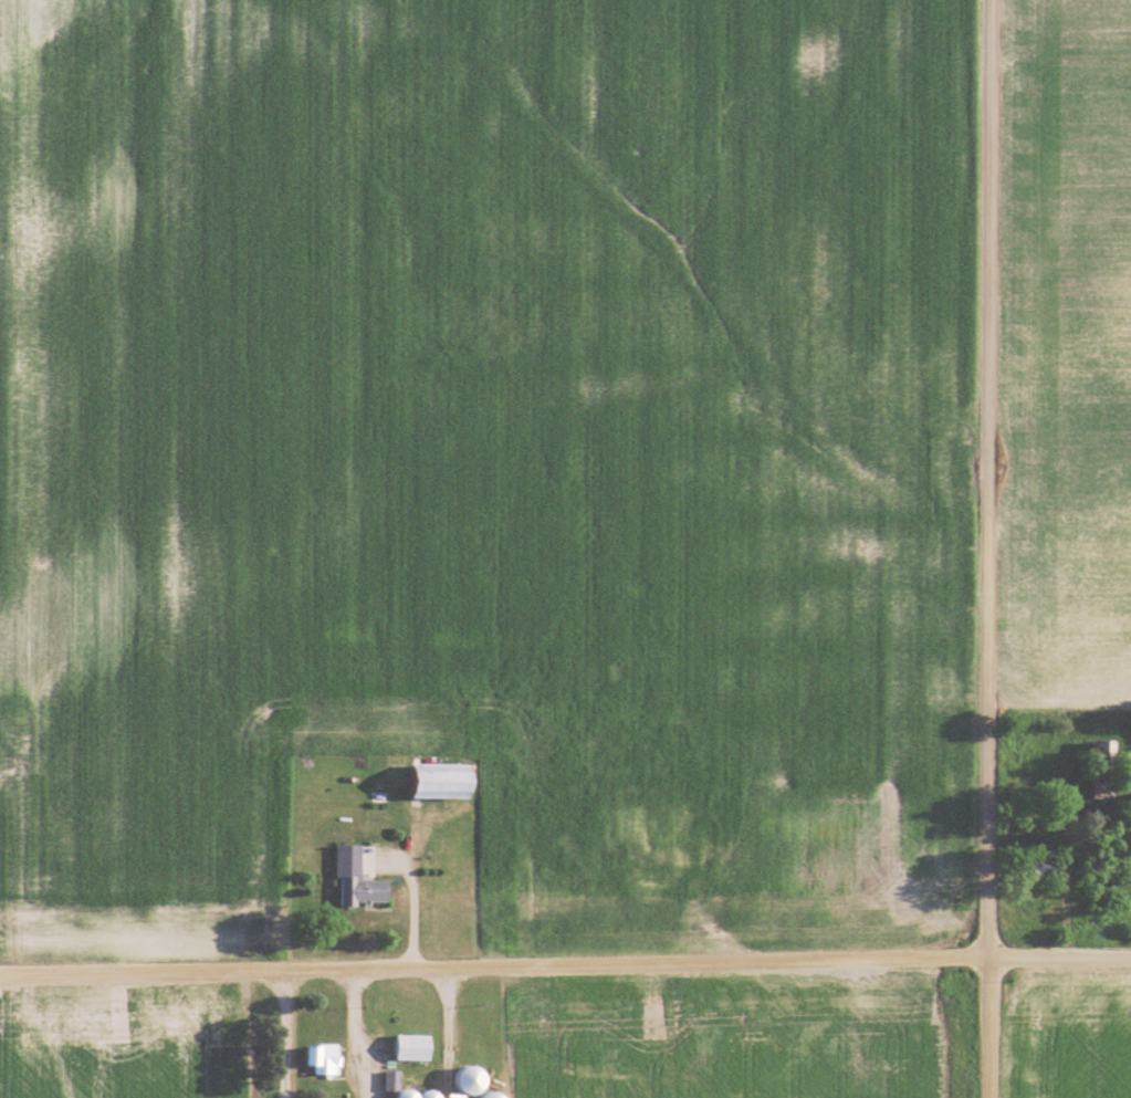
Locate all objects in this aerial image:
road: (986, 548)
building: (1103, 760)
building: (446, 782)
building: (1104, 791)
building: (1043, 862)
building: (358, 881)
road: (565, 965)
road: (277, 1034)
road: (349, 1035)
building: (415, 1047)
building: (323, 1059)
building: (392, 1080)
building: (474, 1080)
building: (494, 1095)

